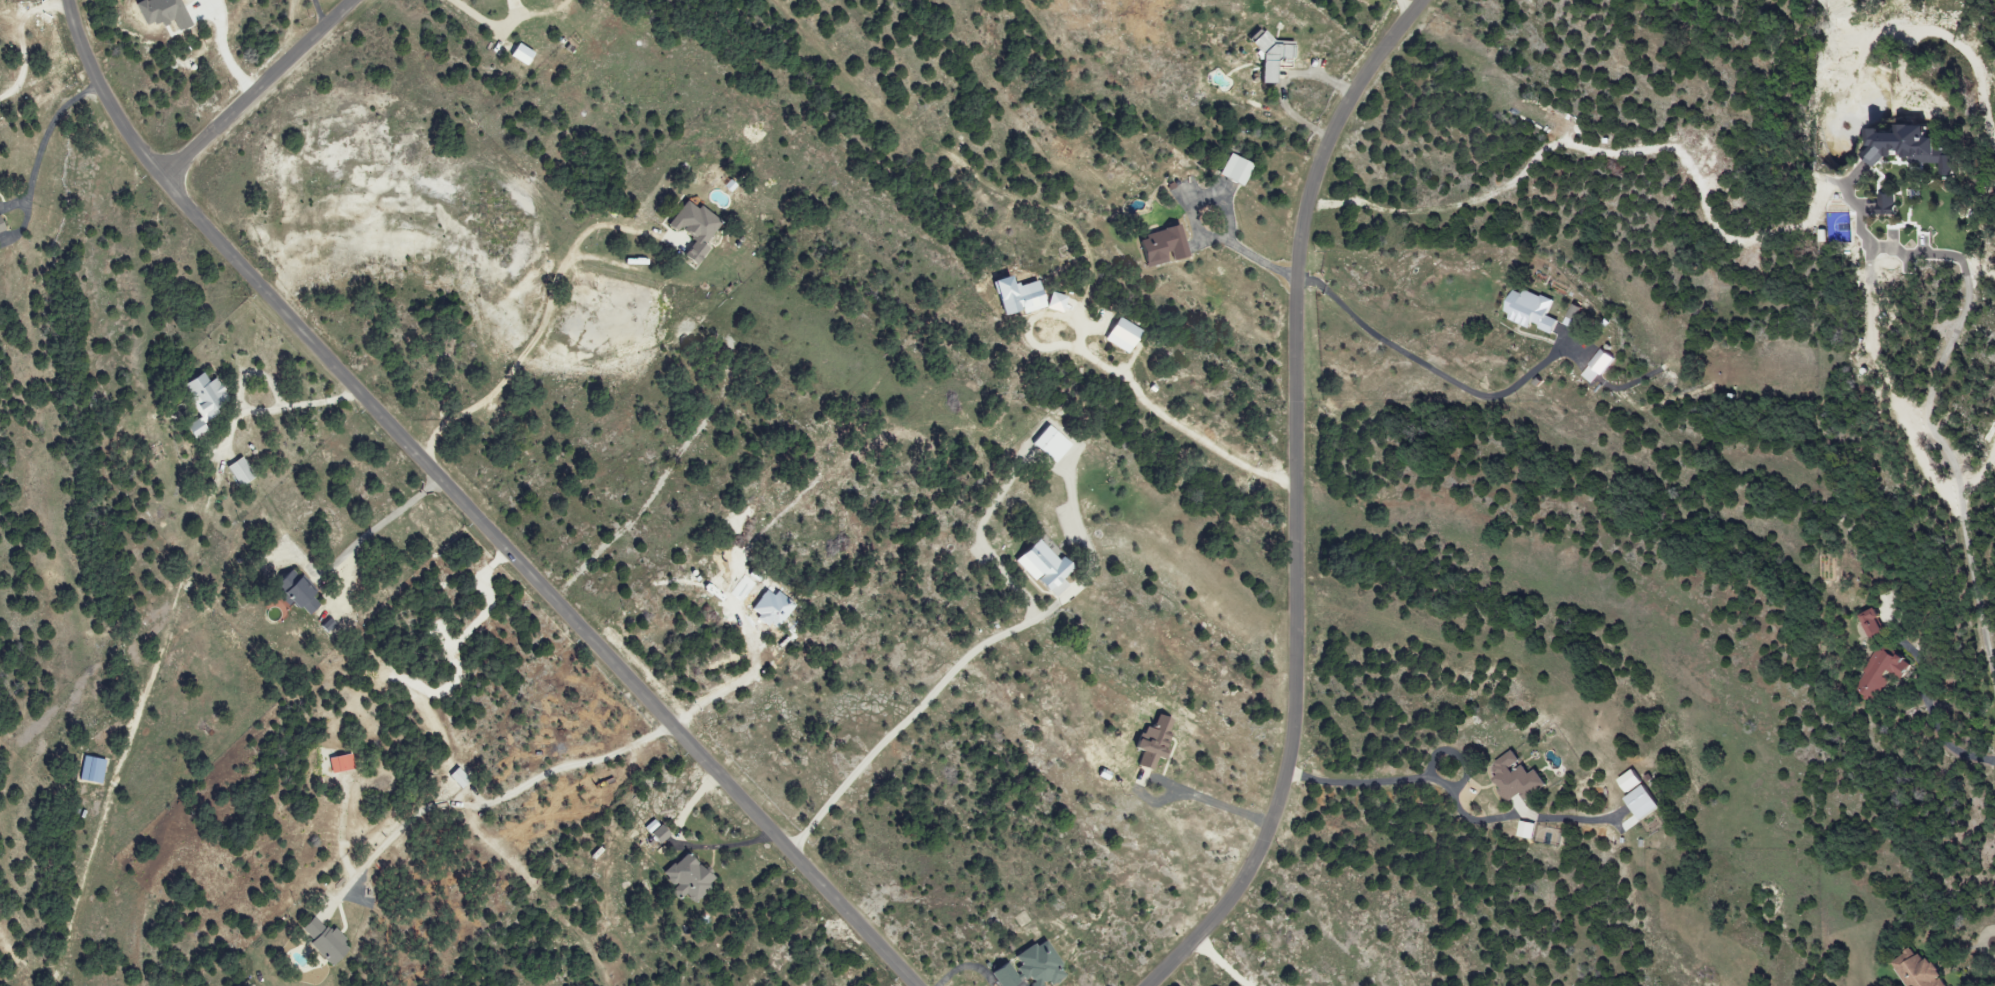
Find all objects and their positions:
road: (317, 14)
road: (484, 22)
road: (22, 38)
building: (1267, 54)
road: (257, 90)
road: (1573, 141)
road: (43, 144)
building: (1909, 148)
building: (1231, 170)
road: (1224, 203)
building: (1885, 203)
building: (0, 228)
building: (691, 228)
building: (1160, 247)
building: (1014, 296)
building: (1053, 302)
building: (1528, 311)
building: (1573, 313)
building: (1119, 334)
road: (535, 338)
road: (1430, 362)
building: (1596, 367)
building: (201, 393)
road: (1204, 436)
road: (1919, 442)
building: (1047, 444)
building: (238, 472)
road: (1303, 499)
road: (464, 509)
road: (392, 514)
building: (1039, 565)
building: (1056, 588)
building: (293, 592)
building: (1870, 623)
building: (325, 625)
building: (1881, 673)
road: (920, 706)
building: (1150, 743)
building: (339, 764)
building: (89, 770)
road: (1416, 775)
building: (456, 778)
building: (1513, 778)
road: (493, 797)
road: (1213, 797)
building: (1640, 803)
building: (653, 831)
road: (682, 844)
building: (686, 877)
building: (321, 940)
building: (1037, 965)
building: (1916, 970)
building: (1004, 974)

